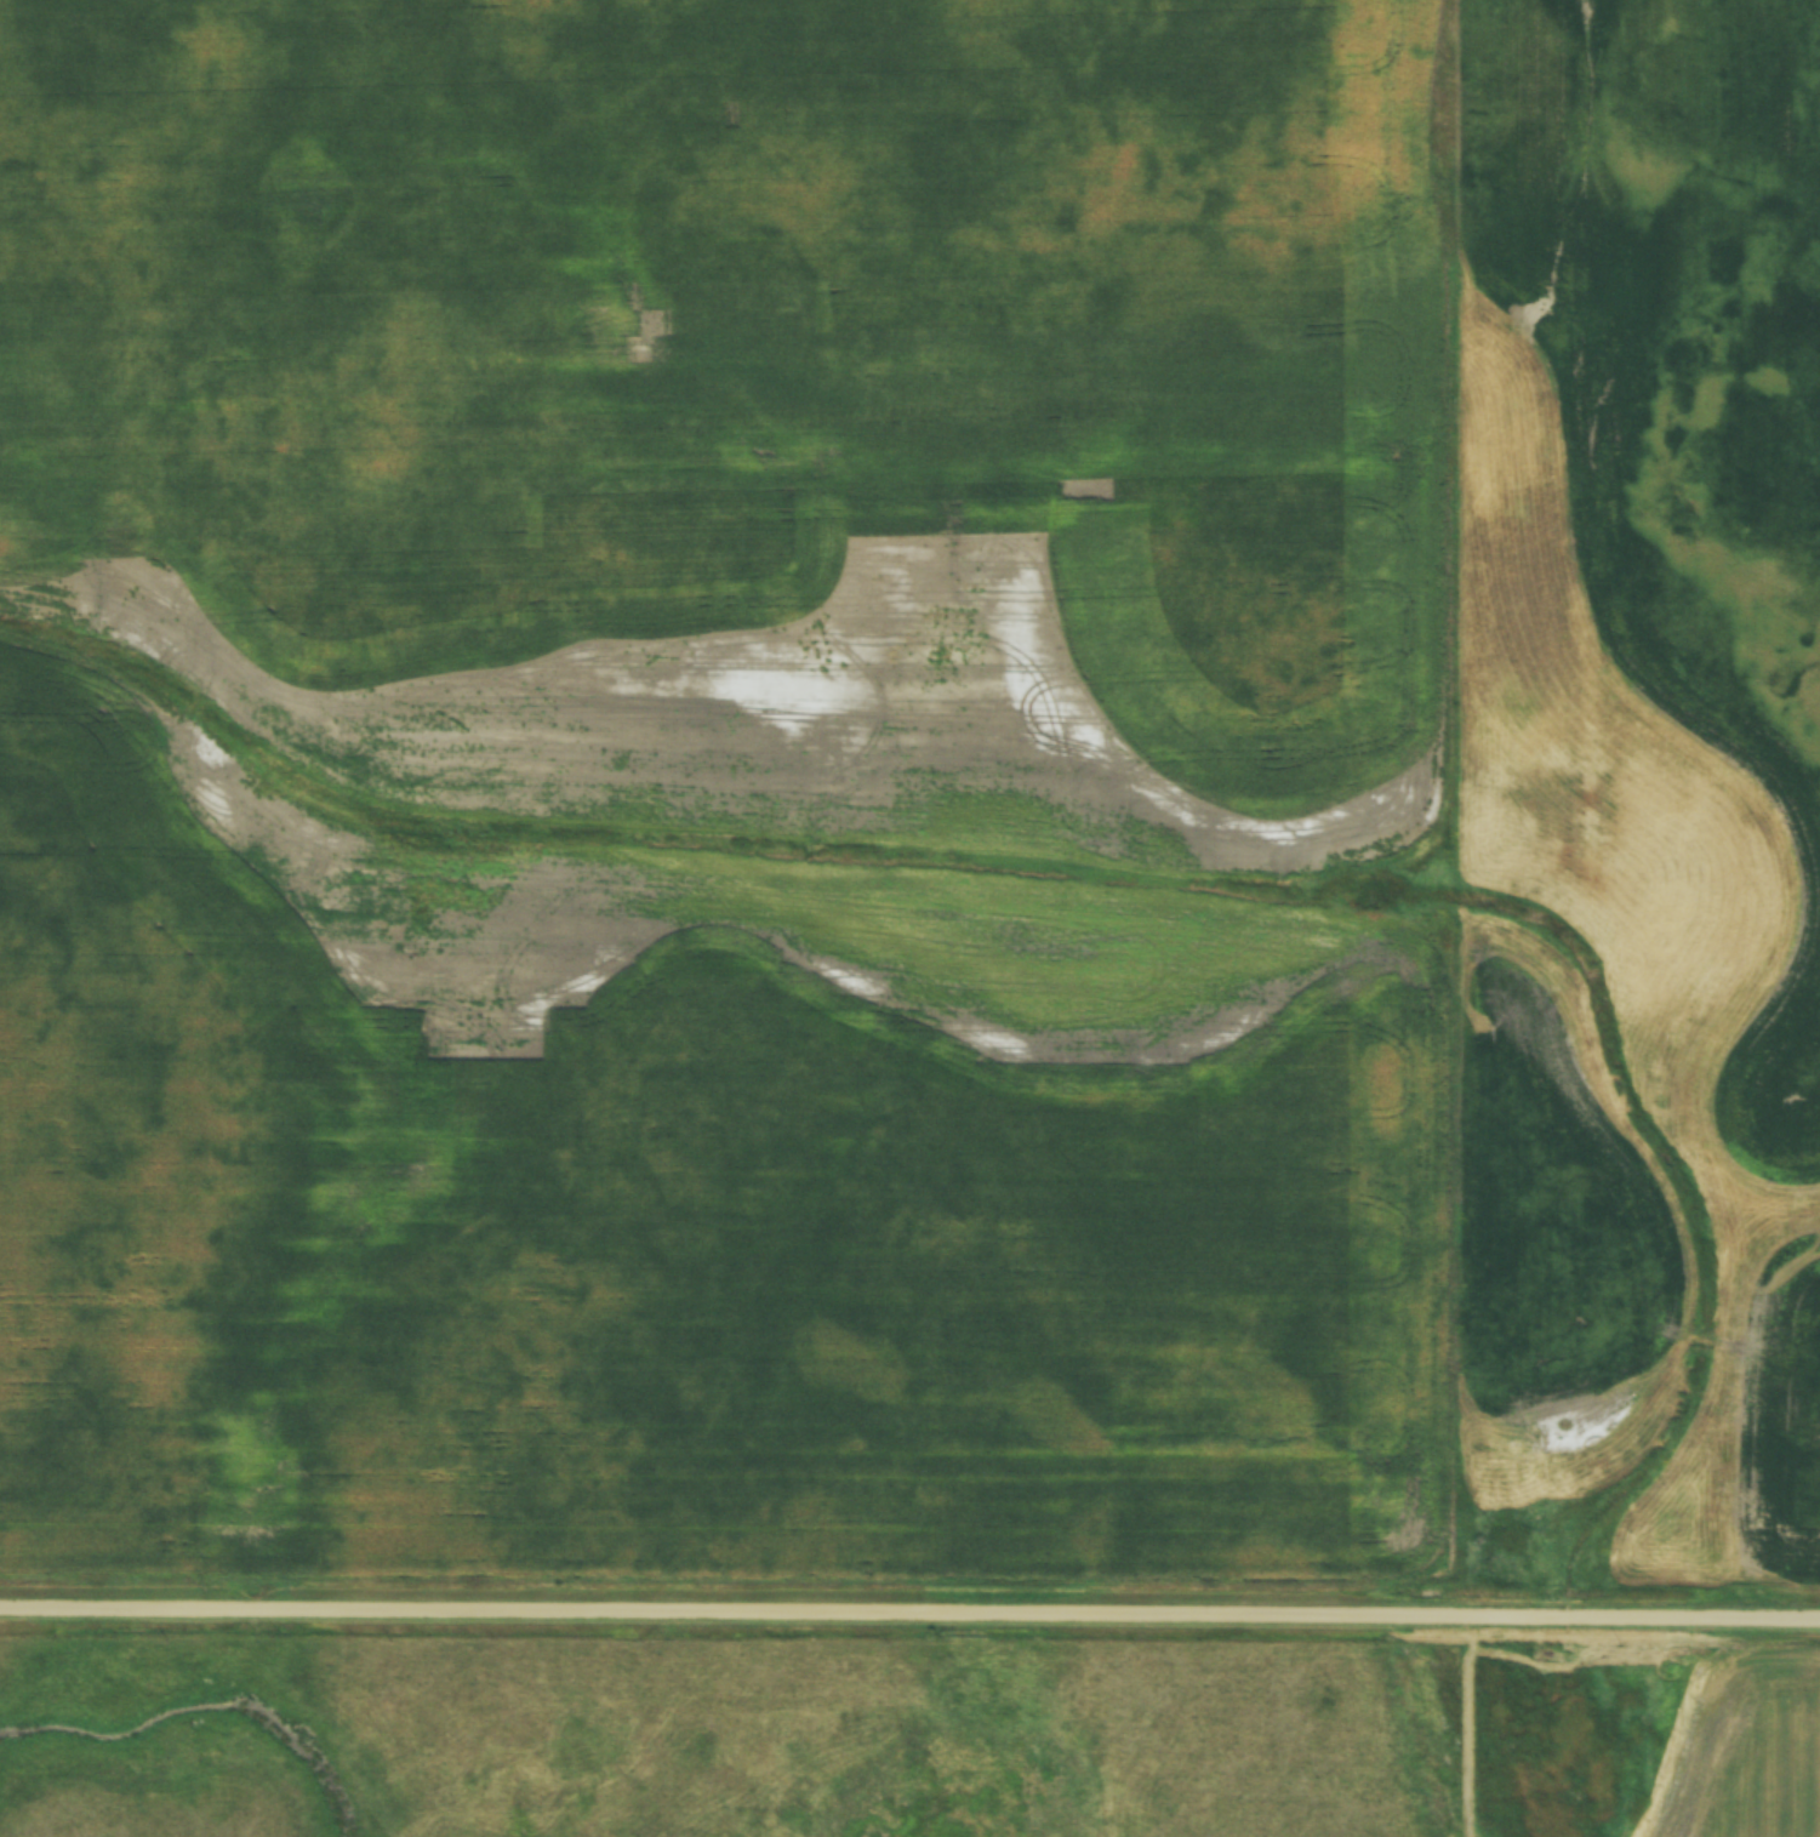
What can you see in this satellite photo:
road: (909, 1616)

